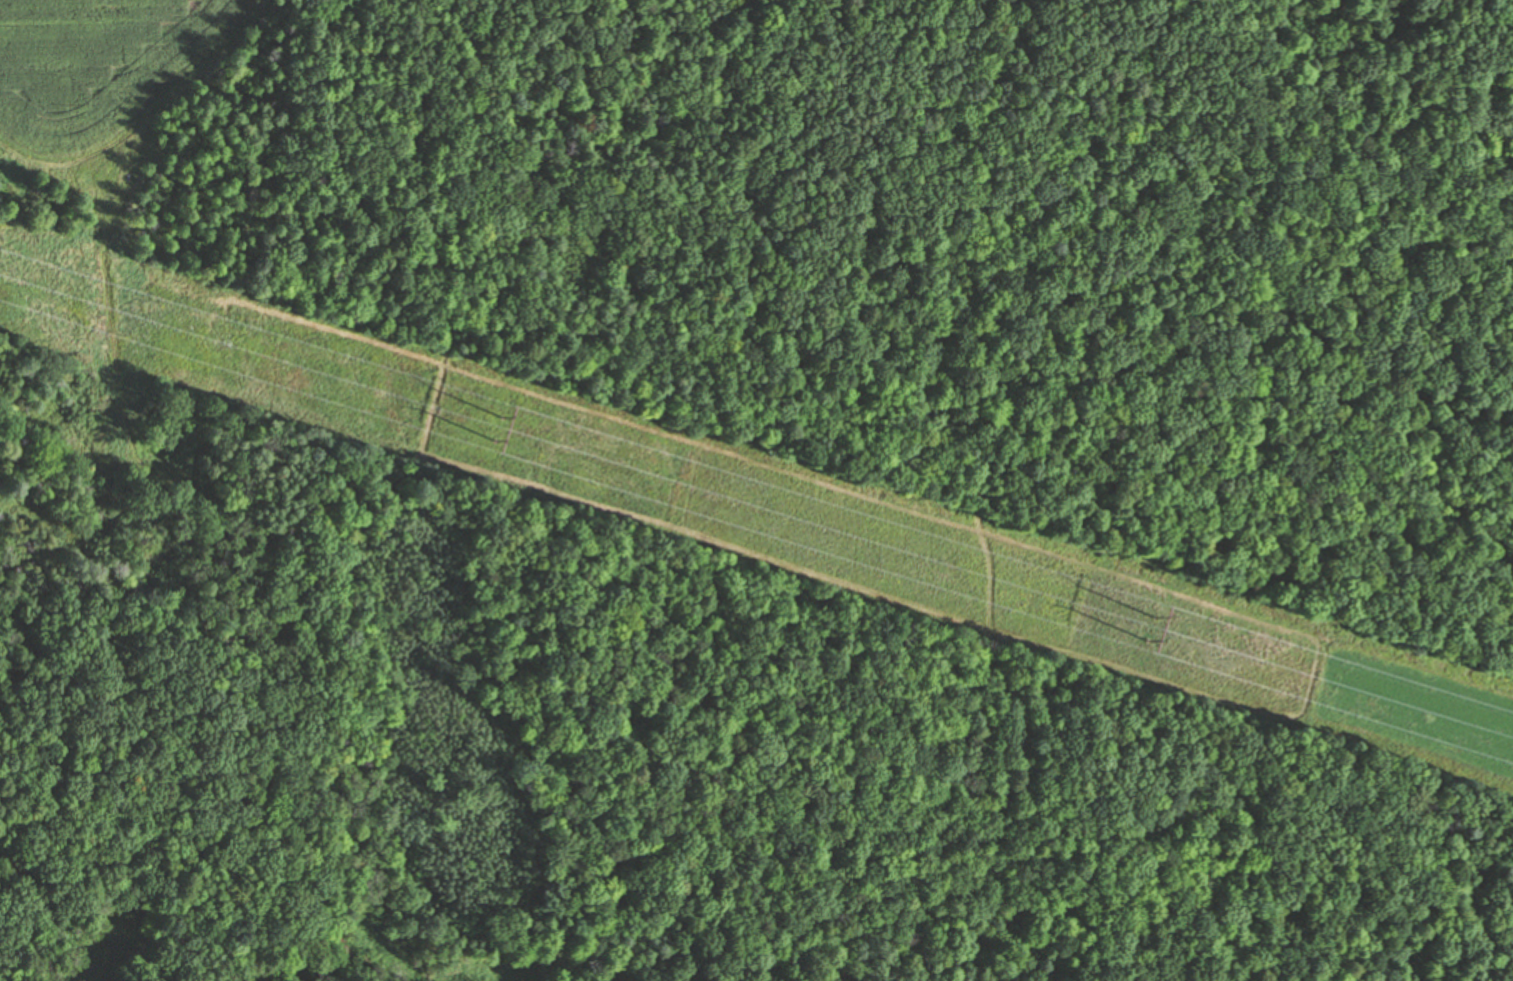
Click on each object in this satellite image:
power tower: (503, 428)
power tower: (1157, 626)

